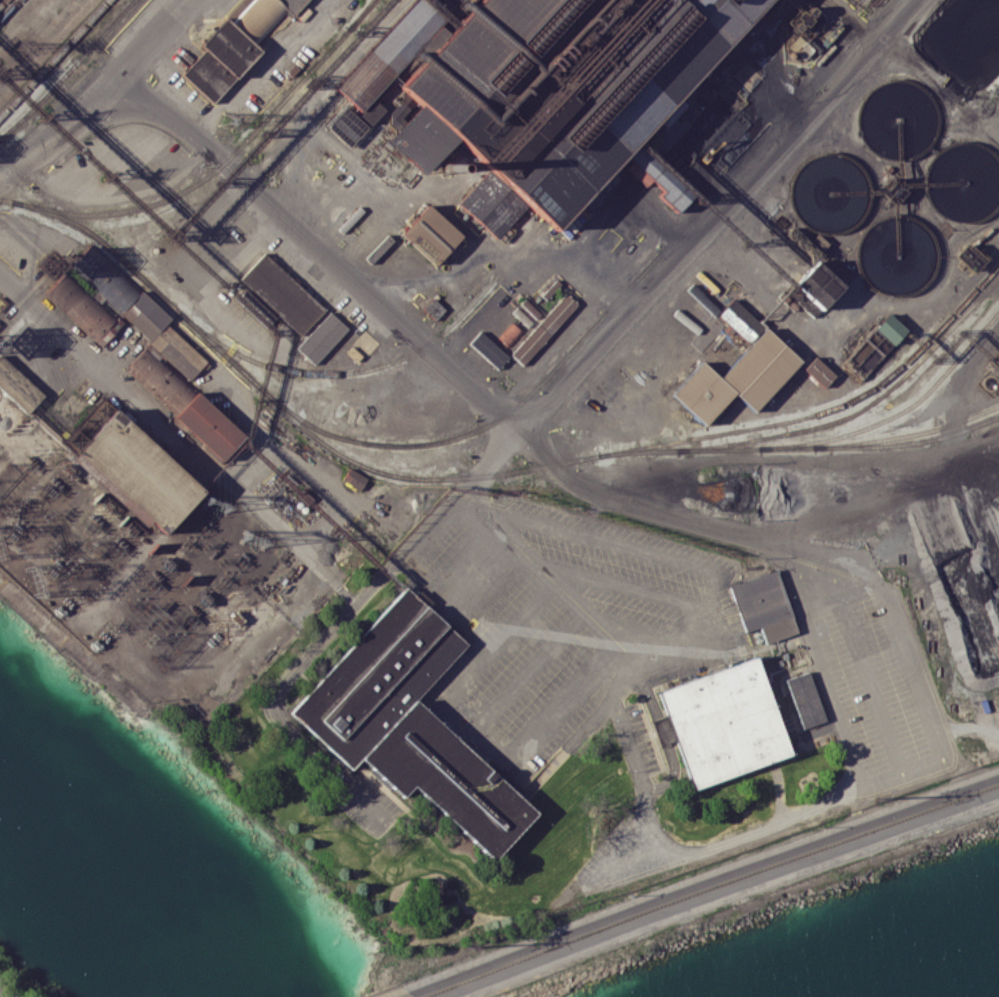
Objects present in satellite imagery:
railway: (2, 3)
railway: (889, 6)
railway: (9, 10)
railway: (360, 14)
building: (235, 43)
road: (137, 55)
railway: (54, 58)
railway: (69, 70)
building: (556, 94)
building: (406, 110)
building: (894, 117)
railway: (223, 163)
building: (963, 182)
building: (829, 194)
building: (428, 235)
building: (895, 255)
building: (107, 277)
building: (817, 285)
building: (280, 295)
building: (84, 307)
building: (257, 307)
building: (527, 314)
building: (741, 320)
building: (544, 328)
building: (890, 328)
building: (323, 335)
building: (366, 342)
building: (488, 349)
railway: (381, 365)
building: (817, 368)
building: (737, 378)
road: (486, 402)
railway: (862, 409)
railway: (898, 412)
railway: (486, 424)
building: (210, 426)
railway: (907, 434)
railway: (644, 447)
railway: (801, 447)
road: (786, 455)
building: (138, 470)
building: (353, 477)
road: (265, 519)
road: (996, 523)
road: (852, 567)
road: (572, 602)
building: (764, 606)
building: (378, 677)
road: (869, 694)
building: (805, 699)
road: (275, 717)
building: (724, 722)
road: (632, 763)
building: (447, 777)
road: (702, 884)
road: (726, 895)
road: (399, 994)

